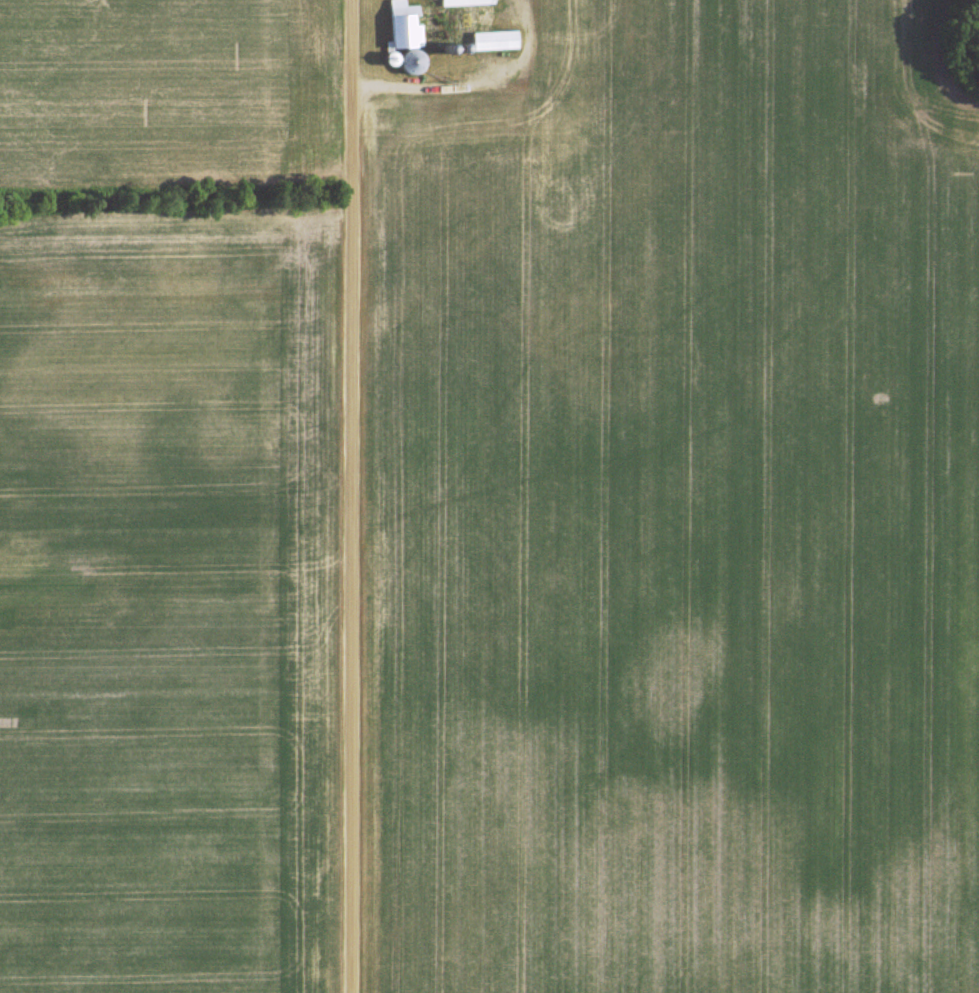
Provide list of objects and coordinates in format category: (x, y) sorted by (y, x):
building: (466, 2)
building: (405, 26)
building: (495, 40)
road: (360, 496)

